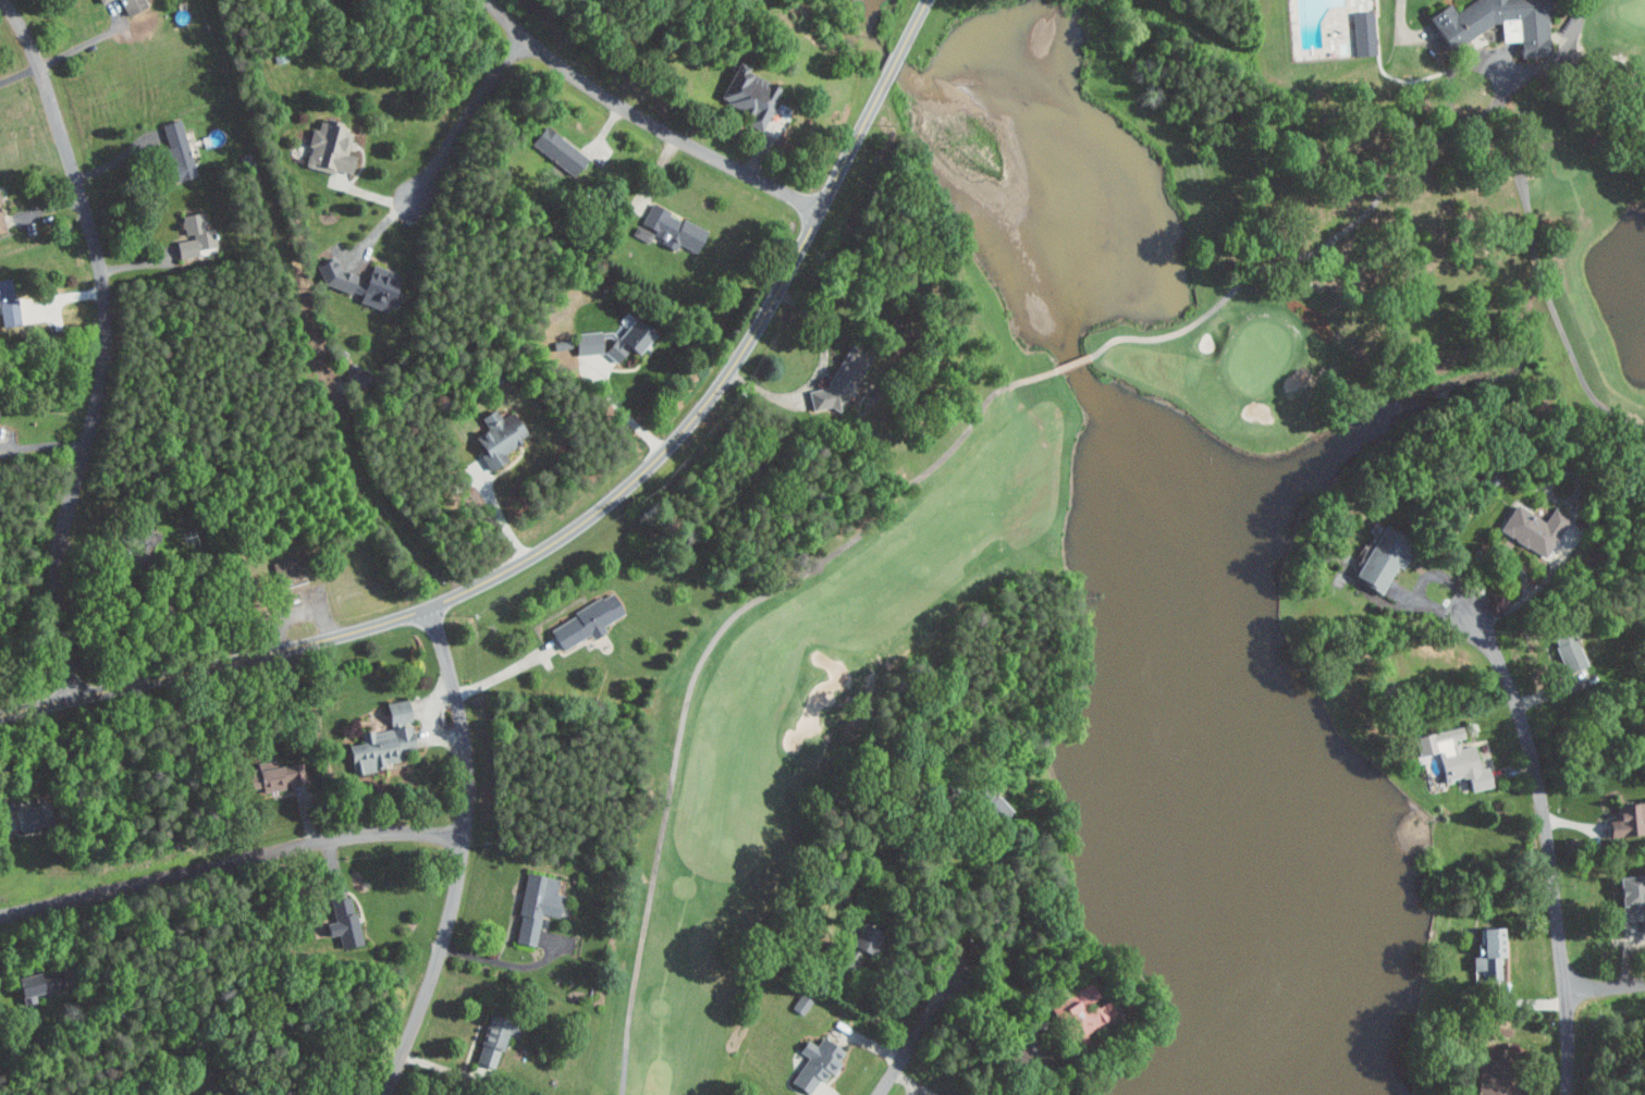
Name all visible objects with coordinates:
road: (916, 24)
building: (1506, 24)
building: (1362, 33)
road: (88, 41)
road: (895, 62)
road: (1611, 70)
building: (747, 94)
road: (645, 120)
building: (175, 148)
building: (327, 148)
building: (555, 149)
road: (440, 159)
building: (667, 227)
building: (195, 234)
building: (359, 282)
building: (598, 342)
road: (102, 343)
road: (819, 372)
building: (842, 374)
road: (626, 411)
building: (494, 435)
road: (499, 514)
building: (1532, 528)
building: (140, 529)
road: (552, 542)
road: (1512, 557)
park: (977, 558)
building: (1378, 559)
building: (285, 570)
road: (1422, 580)
building: (582, 622)
building: (1566, 649)
road: (504, 674)
building: (380, 745)
building: (1451, 756)
building: (273, 776)
building: (985, 803)
building: (23, 815)
building: (1626, 820)
road: (5, 835)
road: (1547, 850)
road: (459, 854)
road: (230, 861)
building: (1629, 900)
building: (533, 906)
building: (343, 921)
building: (858, 945)
building: (1489, 951)
road: (502, 961)
building: (47, 981)
building: (29, 984)
road: (1605, 986)
building: (1080, 1009)
road: (917, 1036)
building: (490, 1039)
building: (813, 1063)
road: (183, 1065)
building: (1490, 1072)

